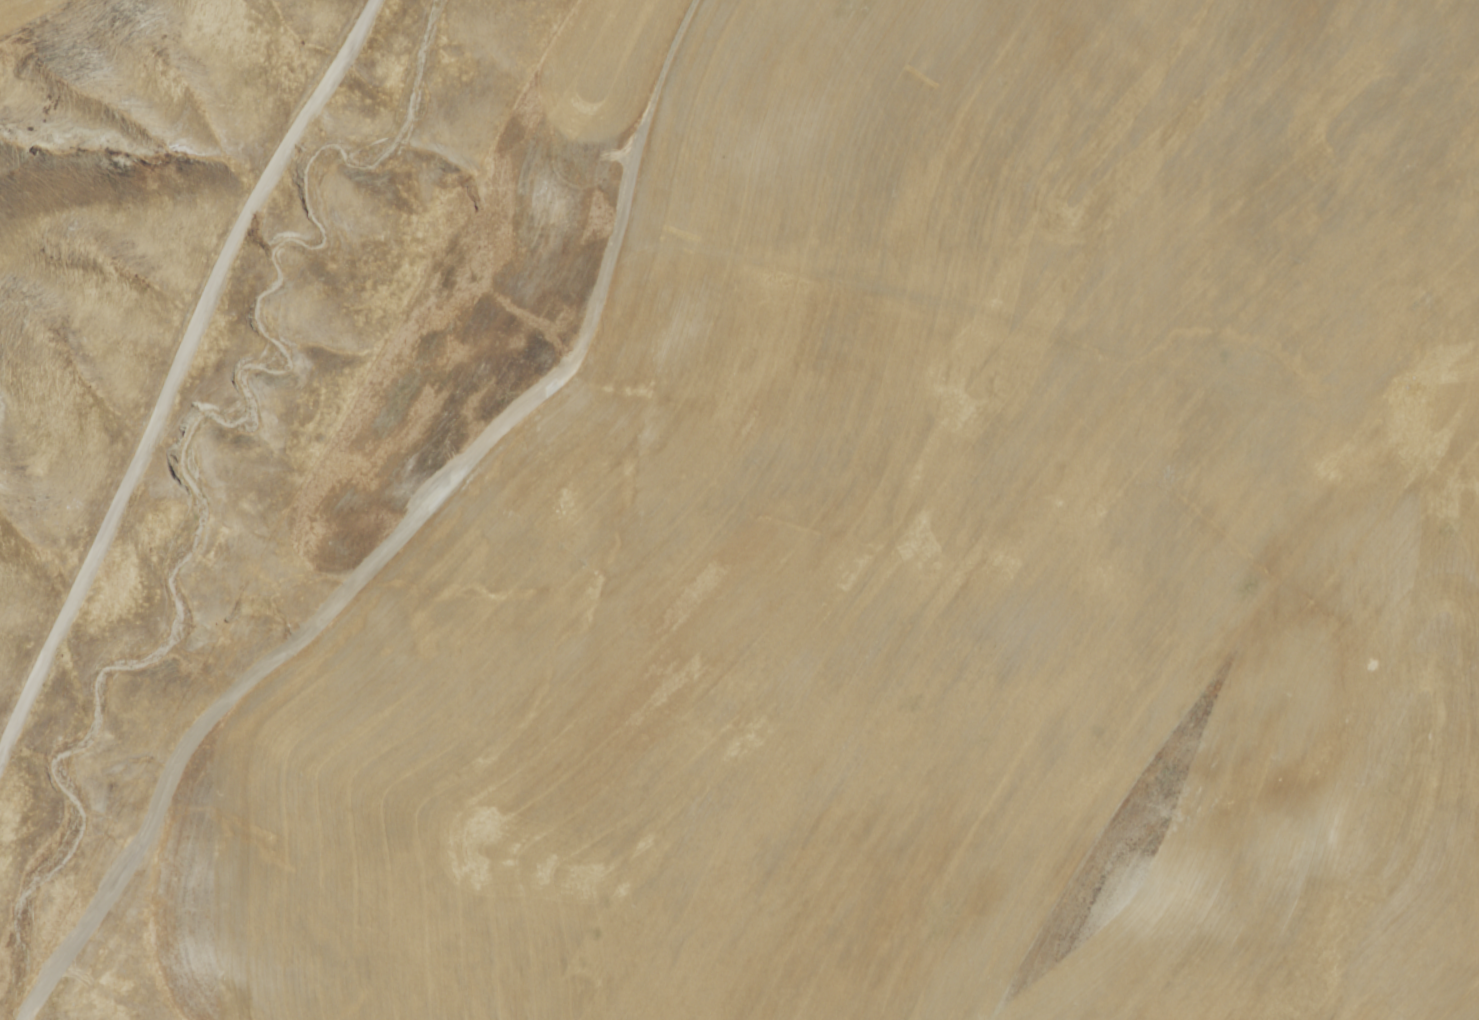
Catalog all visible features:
road: (172, 370)
road: (418, 537)

